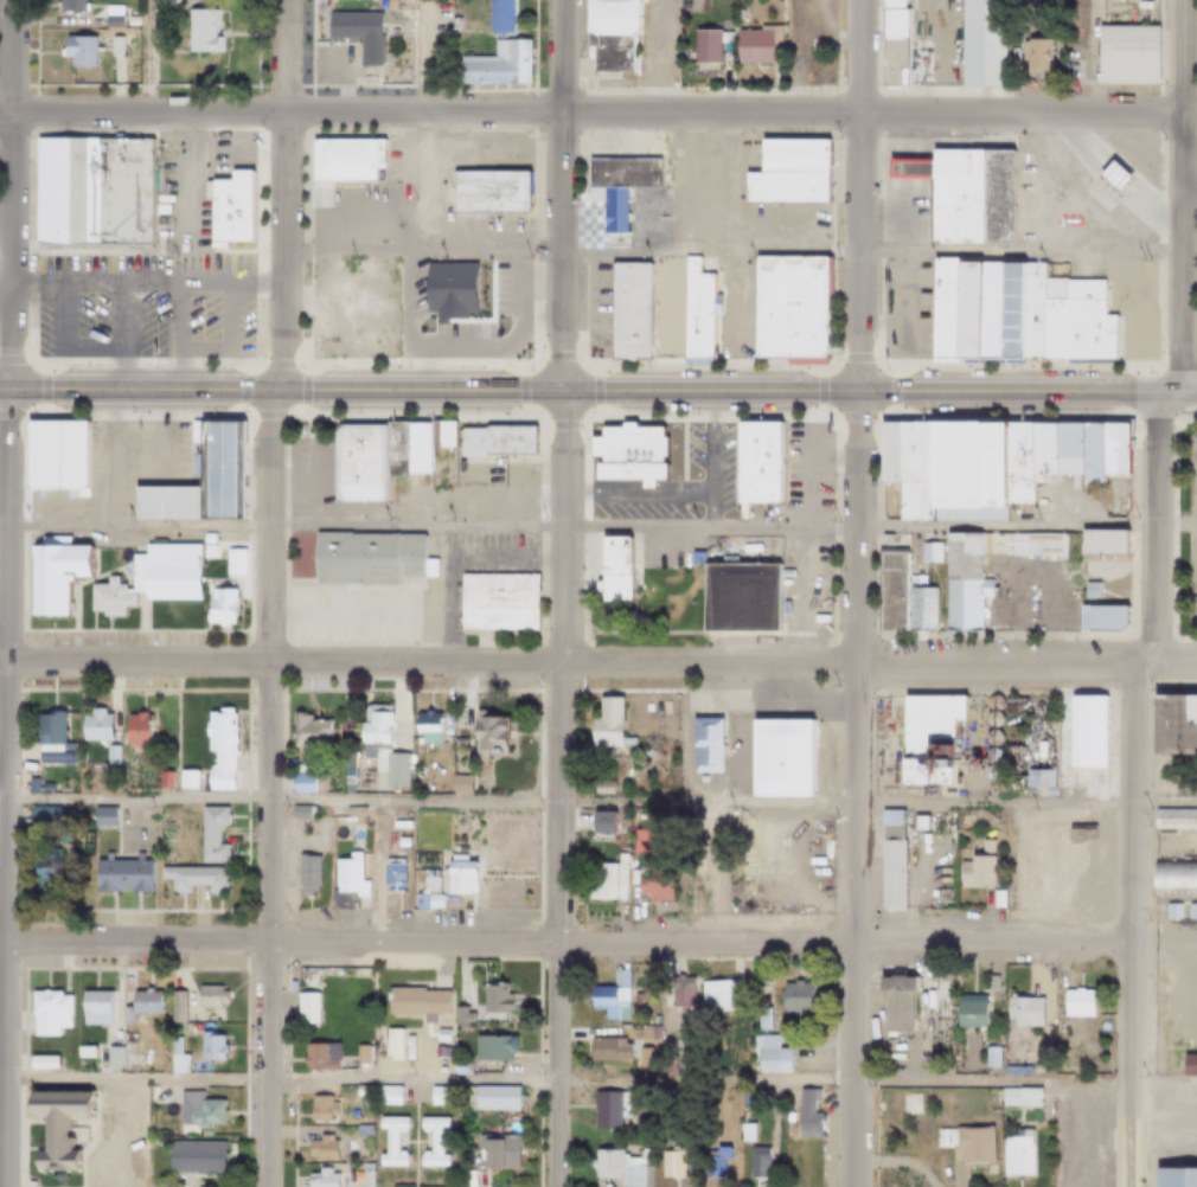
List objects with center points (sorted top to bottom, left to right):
building: (102, 1)
building: (1028, 2)
road: (1134, 2)
building: (66, 6)
parking lot: (1126, 11)
building: (497, 15)
building: (736, 15)
building: (109, 17)
building: (128, 21)
building: (350, 25)
building: (197, 30)
building: (608, 34)
building: (890, 43)
building: (979, 43)
building: (755, 46)
building: (113, 47)
parking lot: (649, 47)
building: (704, 47)
building: (75, 51)
building: (1031, 53)
building: (1124, 54)
road: (146, 56)
road: (662, 56)
road: (942, 56)
road: (1086, 56)
building: (918, 63)
parking lot: (343, 65)
building: (493, 65)
road: (341, 70)
road: (339, 90)
road: (590, 111)
road: (418, 124)
road: (889, 135)
road: (901, 135)
road: (916, 135)
road: (1077, 136)
road: (1063, 141)
road: (480, 147)
building: (341, 159)
road: (231, 165)
road: (889, 168)
road: (901, 168)
road: (916, 168)
road: (1114, 169)
building: (786, 172)
building: (1110, 174)
road: (901, 180)
road: (1106, 180)
road: (1189, 184)
building: (615, 186)
building: (89, 191)
building: (485, 191)
road: (889, 191)
road: (280, 194)
building: (961, 194)
road: (7, 195)
road: (561, 195)
road: (856, 197)
parking lot: (1025, 197)
road: (1182, 197)
road: (894, 204)
road: (1153, 204)
building: (226, 208)
road: (580, 208)
road: (612, 208)
road: (676, 208)
parking lot: (902, 211)
road: (354, 217)
road: (1148, 218)
road: (580, 225)
road: (612, 225)
road: (632, 225)
road: (641, 230)
road: (729, 235)
parking lot: (704, 236)
road: (601, 240)
parking lot: (141, 245)
parking lot: (417, 246)
road: (90, 248)
road: (181, 250)
road: (730, 251)
road: (902, 269)
building: (431, 280)
road: (4, 285)
road: (143, 285)
parking lot: (1120, 301)
road: (500, 303)
parking lot: (903, 307)
building: (658, 308)
building: (788, 308)
building: (1014, 314)
building: (459, 331)
road: (226, 336)
road: (120, 338)
road: (62, 344)
road: (590, 392)
road: (1189, 393)
road: (110, 434)
building: (435, 434)
building: (493, 439)
building: (626, 453)
building: (51, 455)
building: (373, 457)
building: (987, 463)
building: (754, 464)
parking lot: (804, 471)
road: (301, 474)
road: (151, 475)
parking lot: (313, 475)
building: (200, 477)
parking lot: (110, 482)
parking lot: (672, 483)
road: (616, 487)
road: (644, 487)
parking lot: (465, 488)
road: (670, 488)
road: (686, 496)
parking lot: (1058, 503)
road: (710, 511)
road: (66, 512)
road: (598, 524)
road: (1152, 528)
building: (1100, 541)
road: (657, 544)
road: (807, 546)
parking lot: (657, 551)
building: (206, 552)
building: (927, 552)
road: (500, 557)
building: (693, 557)
building: (365, 558)
road: (1024, 562)
parking lot: (475, 564)
building: (610, 569)
building: (51, 573)
road: (1118, 575)
building: (148, 579)
building: (960, 582)
parking lot: (804, 584)
building: (1088, 591)
road: (442, 592)
building: (900, 597)
building: (737, 598)
building: (494, 602)
building: (217, 607)
road: (353, 611)
parking lot: (350, 615)
building: (1099, 617)
parking lot: (117, 642)
road: (597, 667)
road: (702, 702)
building: (991, 702)
silo: (991, 702)
building: (990, 719)
silo: (990, 719)
building: (92, 725)
building: (1173, 725)
building: (424, 727)
building: (133, 730)
building: (604, 730)
building: (306, 732)
road: (732, 732)
road: (973, 732)
building: (485, 736)
building: (990, 738)
silo: (990, 738)
building: (45, 739)
building: (928, 740)
building: (1077, 743)
building: (703, 745)
building: (217, 749)
building: (379, 749)
parking lot: (755, 752)
building: (108, 755)
building: (1030, 755)
building: (988, 756)
silo: (988, 756)
building: (776, 758)
building: (988, 772)
silo: (988, 772)
building: (416, 774)
building: (299, 782)
building: (429, 784)
building: (456, 784)
building: (33, 787)
building: (124, 787)
road: (2, 788)
building: (49, 788)
building: (186, 788)
road: (264, 788)
building: (475, 788)
building: (598, 788)
road: (556, 789)
road: (852, 790)
road: (598, 798)
building: (299, 813)
building: (356, 814)
building: (101, 817)
building: (403, 817)
building: (39, 820)
building: (962, 820)
building: (1173, 820)
building: (598, 823)
building: (917, 823)
building: (210, 834)
building: (642, 842)
building: (352, 845)
road: (1176, 847)
building: (889, 860)
building: (43, 870)
building: (974, 870)
building: (303, 873)
building: (346, 875)
building: (390, 875)
building: (119, 877)
building: (456, 877)
building: (1173, 877)
building: (191, 879)
road: (781, 879)
building: (603, 881)
building: (427, 887)
building: (652, 887)
road: (910, 891)
building: (996, 899)
building: (431, 902)
building: (416, 903)
building: (1169, 912)
building: (1190, 912)
road: (1127, 925)
road: (563, 941)
road: (1161, 942)
building: (632, 982)
building: (990, 983)
building: (608, 996)
building: (676, 996)
building: (713, 996)
building: (206, 997)
building: (493, 999)
building: (794, 1000)
building: (414, 1002)
building: (894, 1002)
building: (1077, 1003)
building: (134, 1005)
building: (92, 1008)
building: (174, 1008)
building: (303, 1008)
building: (45, 1012)
building: (1019, 1013)
building: (966, 1014)
building: (460, 1016)
building: (758, 1020)
building: (1056, 1029)
building: (126, 1045)
building: (207, 1047)
building: (913, 1047)
building: (75, 1048)
building: (85, 1048)
building: (488, 1048)
building: (606, 1050)
building: (173, 1054)
building: (110, 1057)
building: (767, 1057)
building: (314, 1058)
building: (987, 1058)
building: (641, 1059)
building: (39, 1064)
building: (1188, 1065)
building: (459, 1066)
road: (597, 1079)
building: (361, 1091)
building: (385, 1096)
building: (435, 1097)
building: (487, 1097)
building: (1017, 1097)
building: (318, 1108)
building: (607, 1109)
building: (196, 1110)
building: (805, 1114)
building: (53, 1128)
building: (360, 1131)
building: (743, 1134)
building: (389, 1142)
building: (430, 1143)
building: (318, 1149)
building: (962, 1149)
building: (495, 1150)
building: (457, 1153)
building: (1013, 1154)
building: (192, 1157)
building: (712, 1162)
building: (755, 1162)
building: (621, 1163)
building: (668, 1163)
building: (1173, 1178)
building: (318, 1179)
building: (363, 1180)

